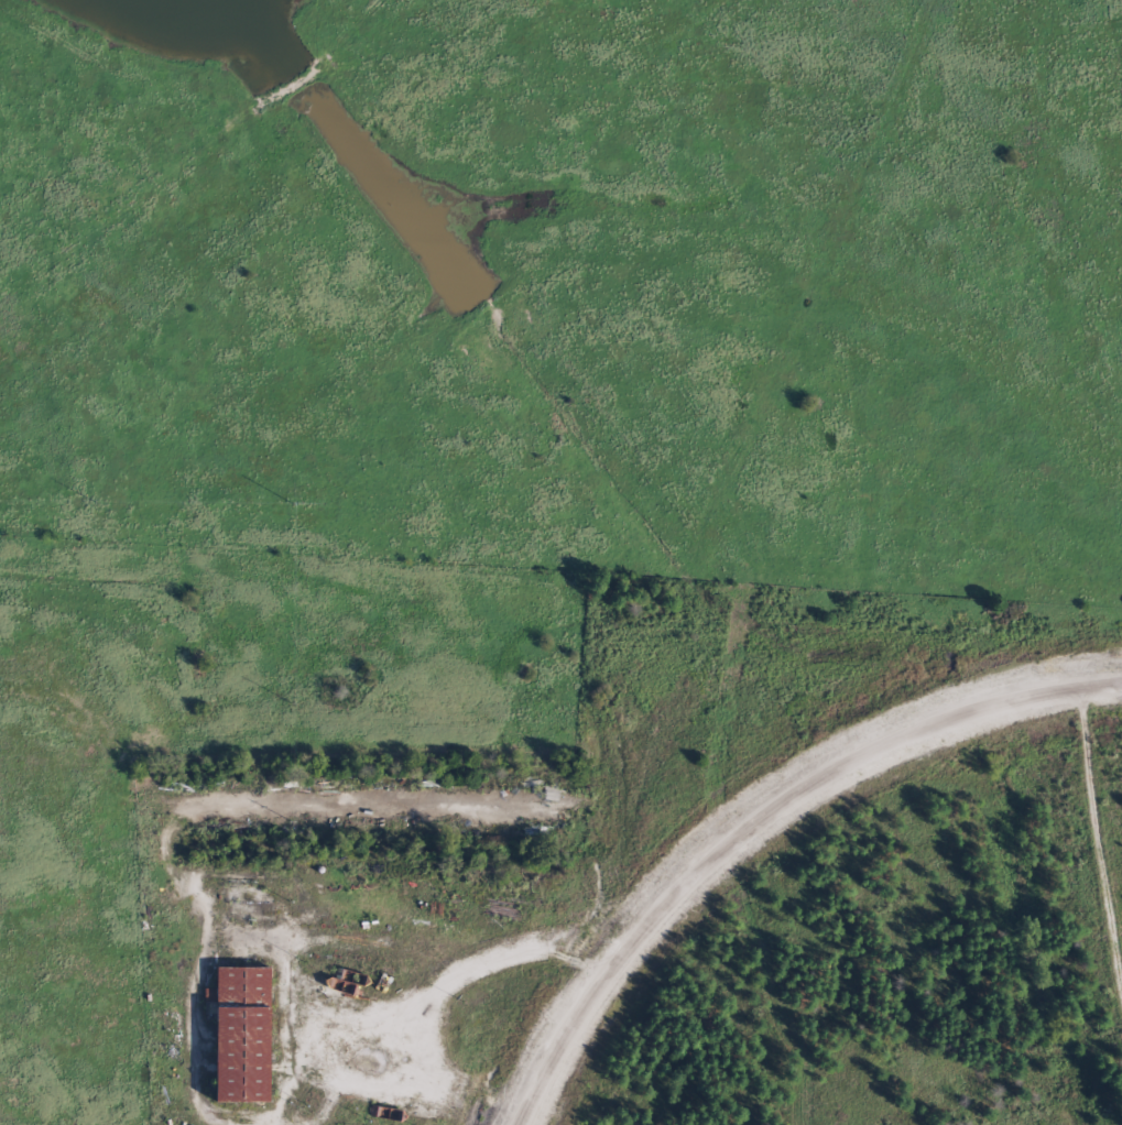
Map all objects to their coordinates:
road: (831, 220)
road: (755, 818)
road: (1094, 865)
building: (237, 1036)

